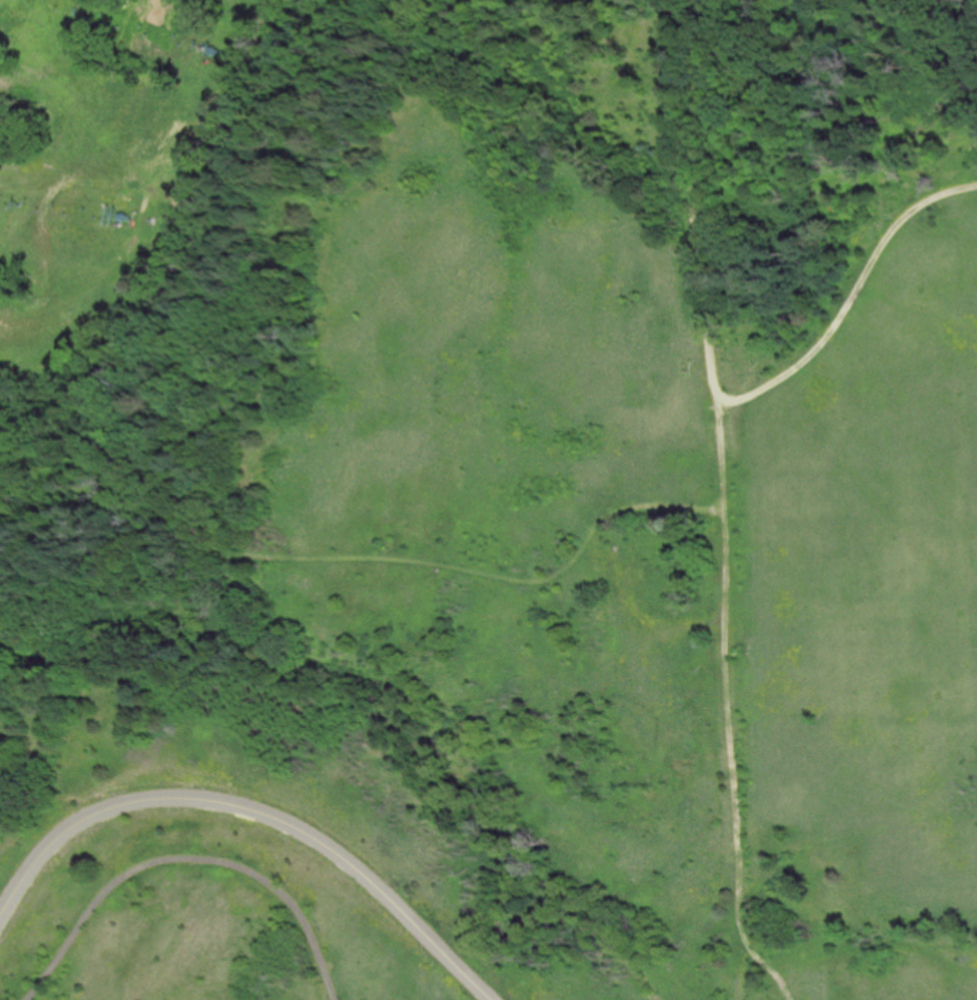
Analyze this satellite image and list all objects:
aerialway pylon: (77, 12)
aerialway pylon: (196, 46)
ski resort: (121, 146)
aerialway pylon: (18, 204)
road: (711, 204)
road: (857, 297)
road: (730, 456)
park: (531, 545)
road: (360, 551)
road: (732, 753)
road: (253, 816)
road: (187, 857)
road: (772, 966)

